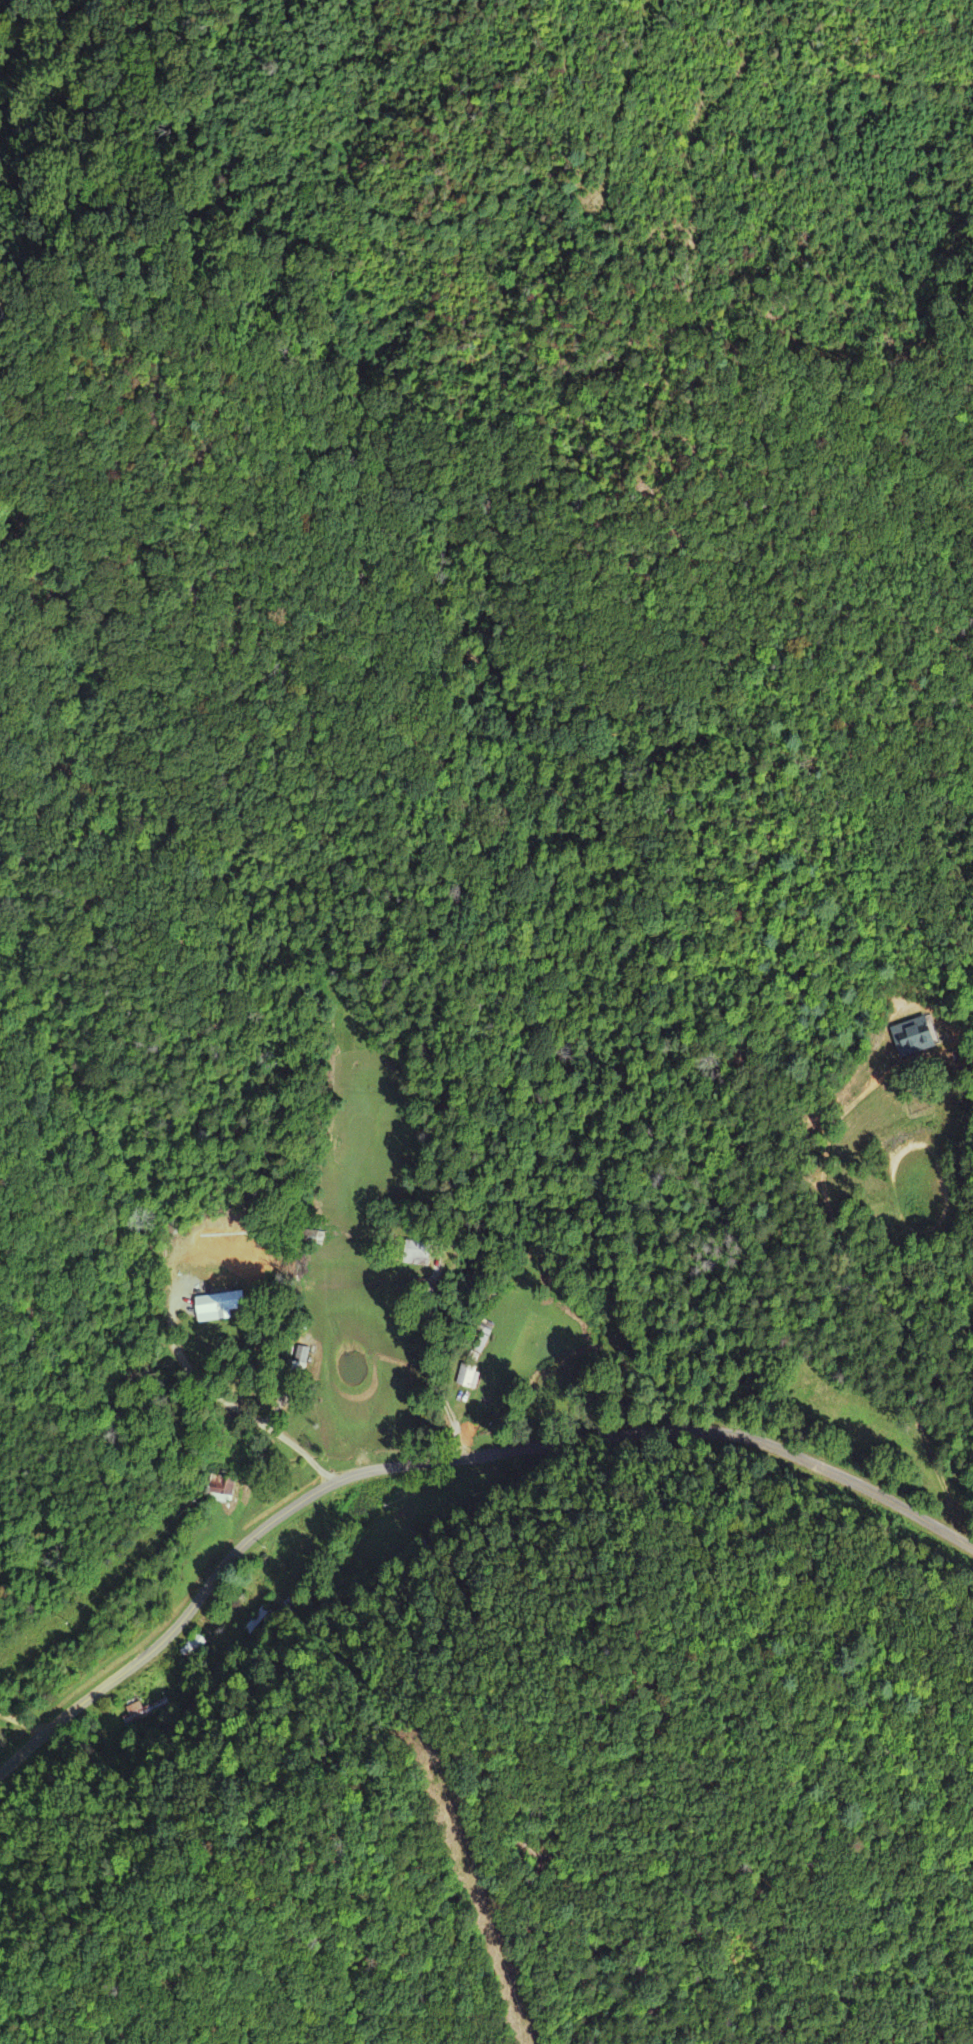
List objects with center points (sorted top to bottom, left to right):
building: (914, 1038)
building: (221, 1307)
building: (468, 1377)
road: (442, 1459)

